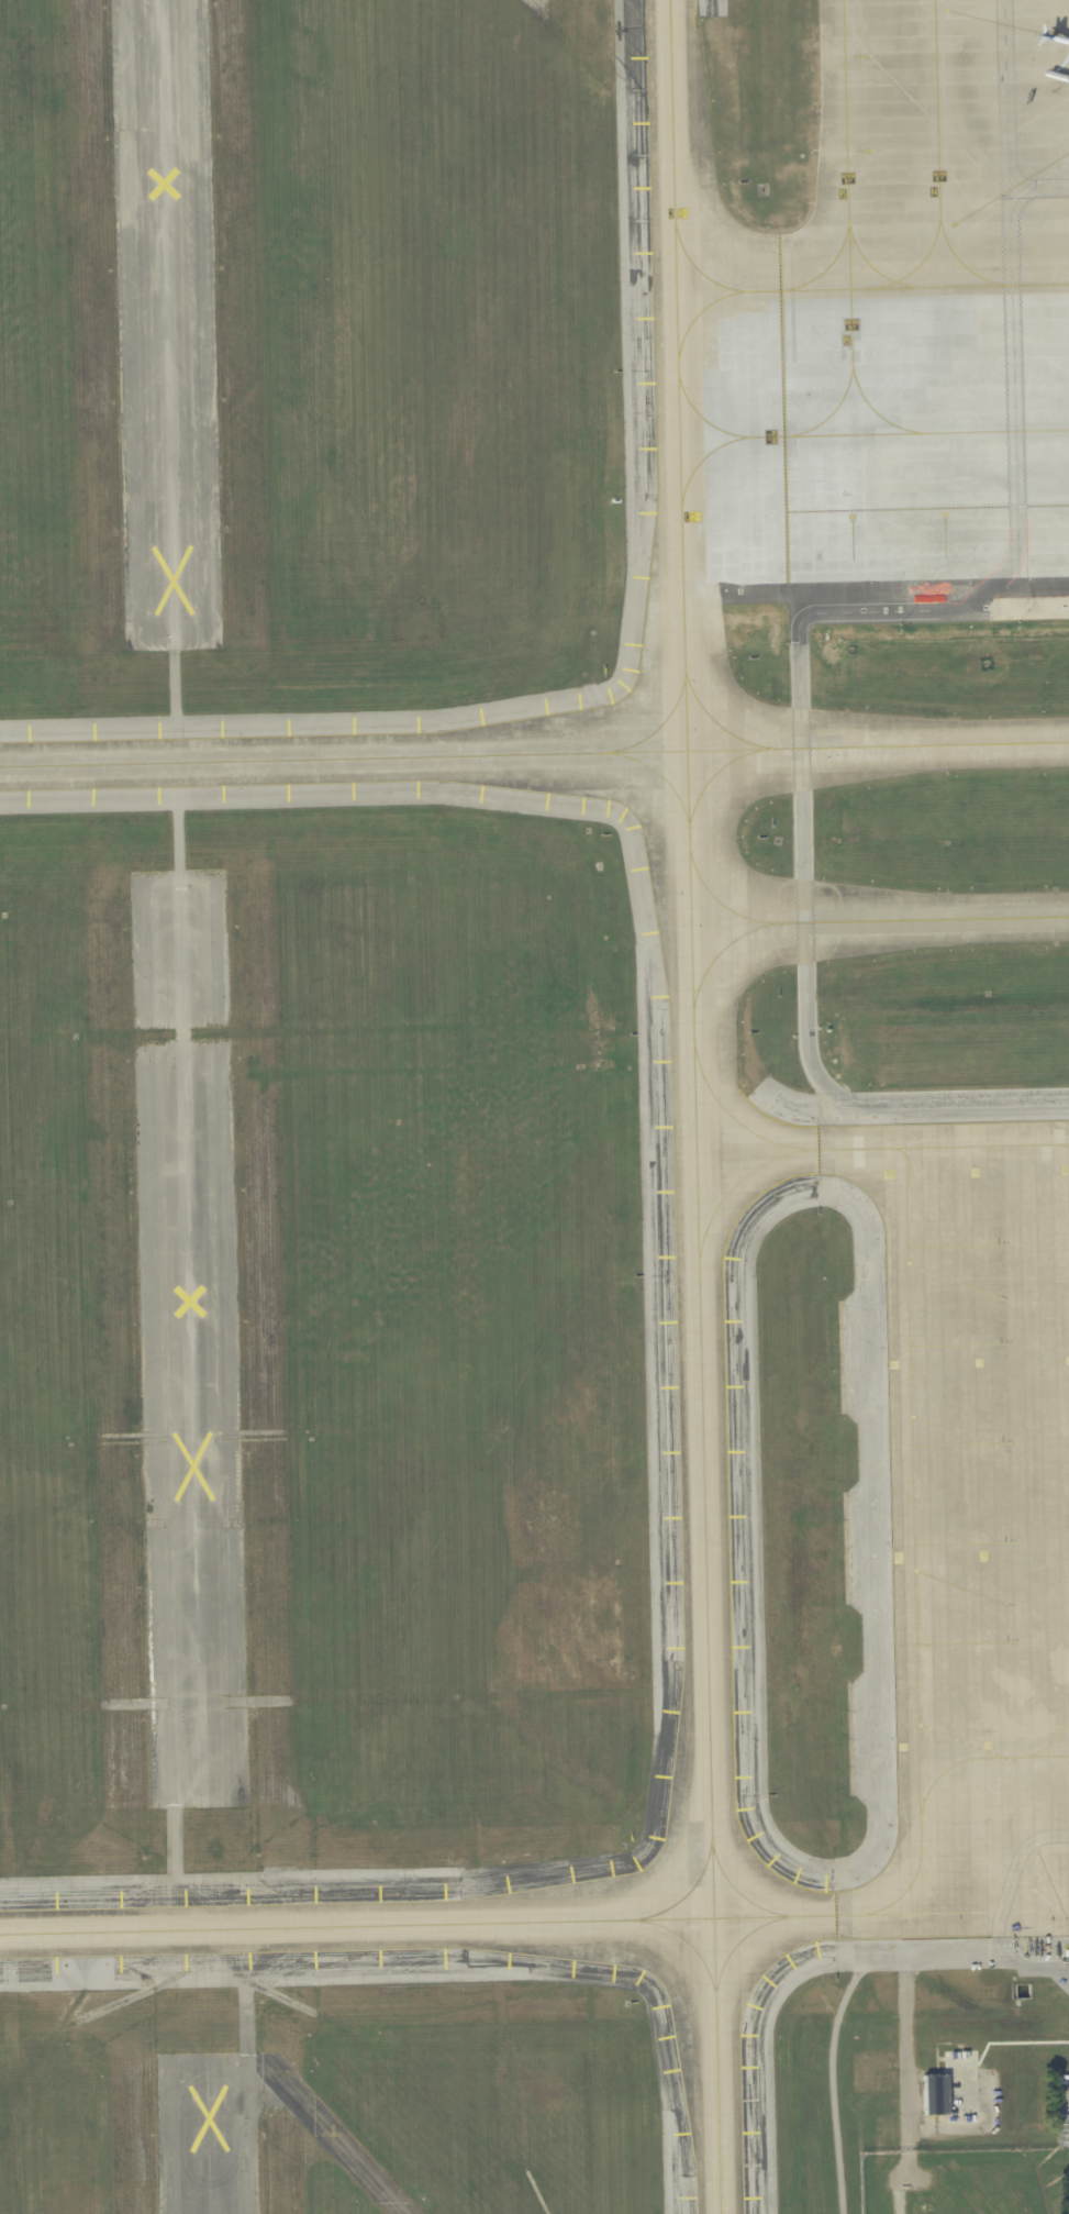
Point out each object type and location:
road: (1009, 123)
airport taxiway: (851, 186)
airport taxiway: (829, 268)
airport taxiway: (873, 268)
airport taxiway: (846, 294)
airport taxiway: (699, 324)
airport apron: (917, 336)
airport taxiway: (875, 411)
airport taxiway: (838, 413)
airport taxiway: (702, 416)
airport taxiway: (855, 436)
road: (801, 677)
airport taxiway: (716, 722)
airport taxiway: (657, 727)
airport taxiway: (534, 753)
airport taxiway: (658, 772)
airport taxiway: (712, 774)
airport taxiway: (857, 919)
airport taxiway: (717, 952)
airport taxiway: (694, 1106)
airport: (534, 1107)
airport taxiway: (732, 1116)
airport taxiway: (980, 1144)
airport taxiway: (1062, 1144)
airport taxiway: (854, 1148)
airport taxiway: (733, 1184)
airport apron: (979, 1521)
airport taxiway: (912, 1539)
airport taxiway: (1048, 1742)
airport taxiway: (980, 1757)
airport taxiway: (736, 1890)
airport taxiway: (687, 1893)
road: (1001, 1909)
airport taxiway: (902, 1913)
airport taxiway: (417, 1923)
airport taxiway: (689, 1942)
airport taxiway: (736, 1942)
road: (905, 2054)
building: (875, 2071)
building: (962, 2084)
building: (935, 2093)
parking lot: (1062, 2125)
road: (899, 2181)
building: (914, 2202)

